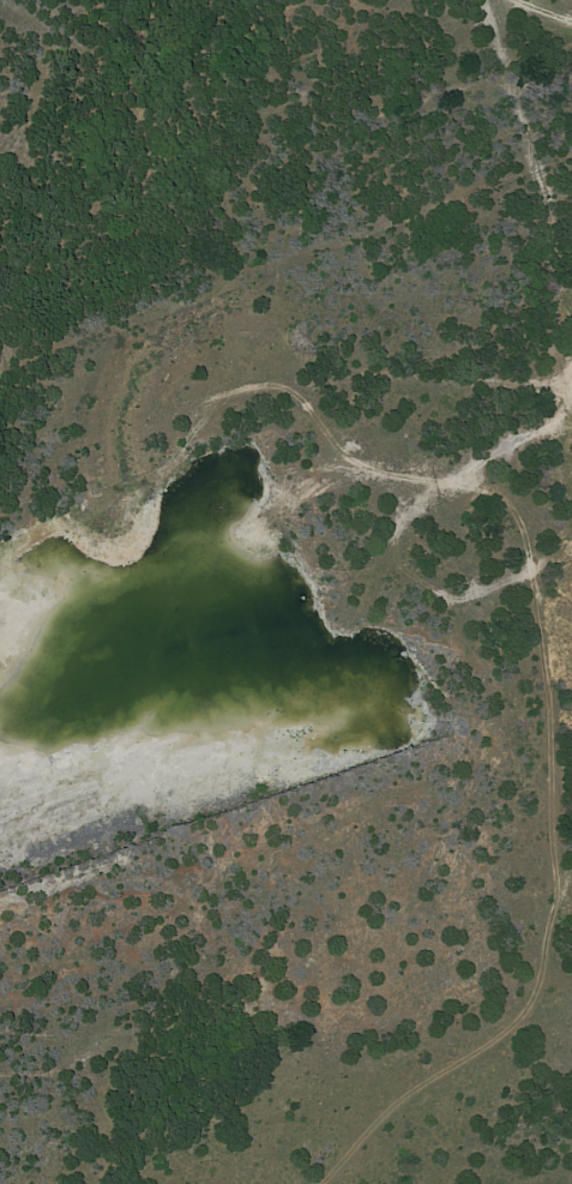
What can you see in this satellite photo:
road: (518, 12)

